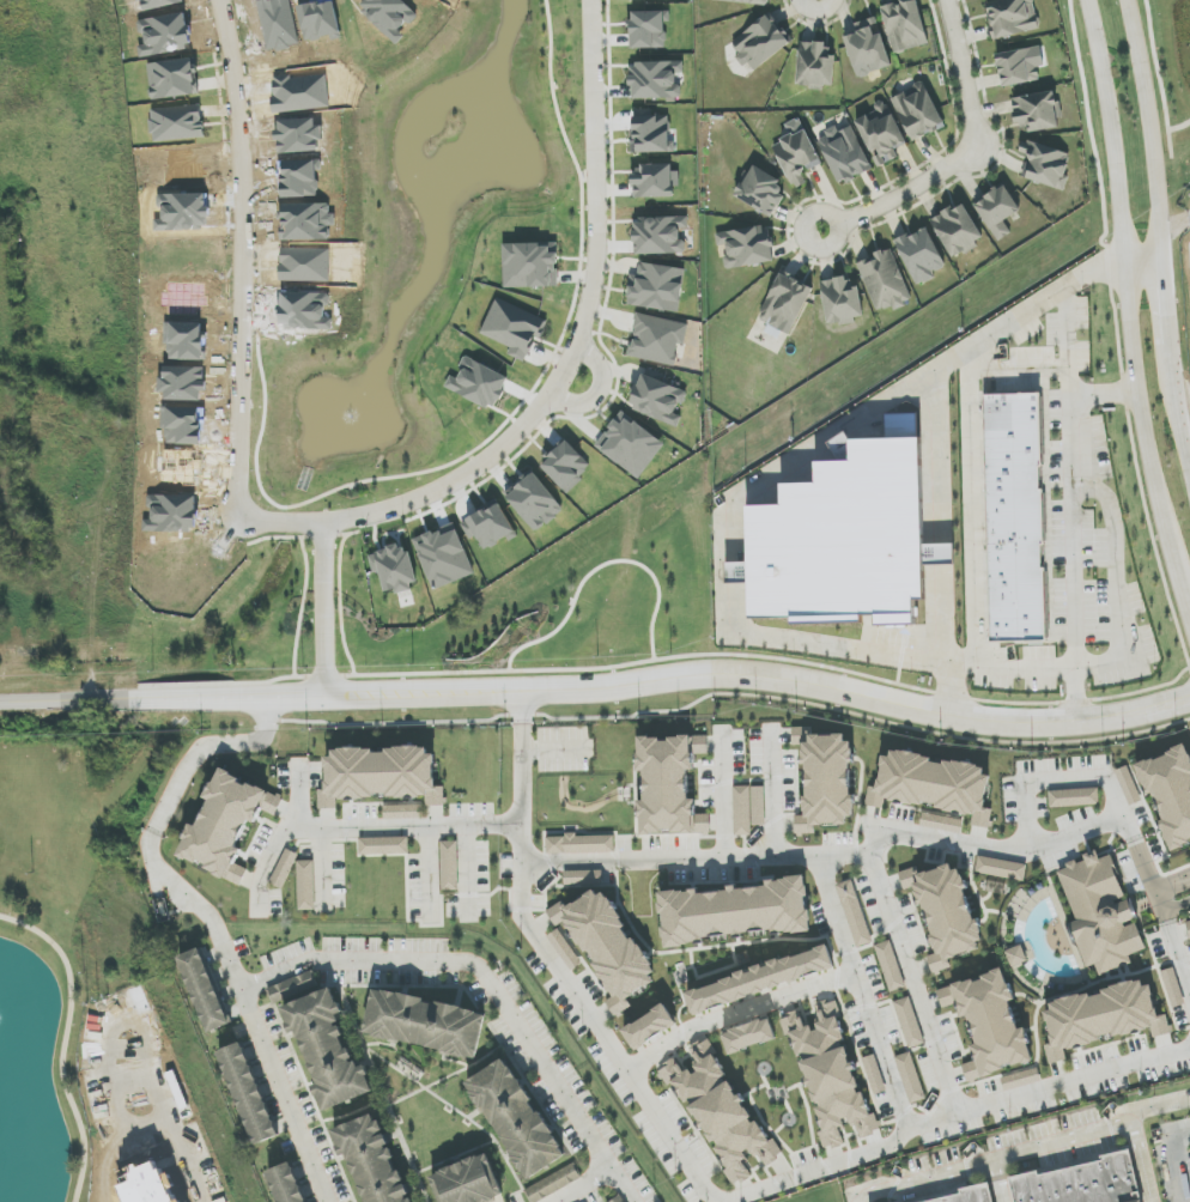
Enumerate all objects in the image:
building: (747, 1)
road: (818, 8)
building: (1012, 17)
building: (905, 25)
building: (760, 43)
building: (868, 48)
park: (1168, 53)
building: (815, 66)
building: (1020, 66)
road: (963, 75)
building: (656, 79)
road: (1158, 80)
building: (917, 111)
building: (1036, 111)
road: (1178, 125)
road: (1149, 130)
building: (652, 134)
building: (881, 134)
building: (844, 153)
building: (796, 157)
building: (1045, 164)
building: (655, 181)
building: (760, 190)
road: (909, 190)
building: (997, 211)
road: (832, 217)
building: (958, 230)
building: (660, 235)
building: (747, 247)
building: (921, 255)
building: (530, 265)
road: (1143, 266)
road: (1127, 279)
building: (884, 281)
building: (656, 287)
building: (842, 300)
road: (243, 302)
building: (785, 303)
road: (1168, 323)
building: (514, 328)
road: (581, 334)
building: (657, 339)
road: (599, 391)
road: (1100, 391)
building: (658, 400)
road: (1182, 425)
building: (630, 445)
road: (969, 506)
building: (1019, 512)
building: (849, 538)
building: (939, 554)
building: (443, 557)
building: (394, 567)
road: (1182, 584)
road: (324, 609)
road: (561, 624)
road: (790, 639)
road: (802, 662)
road: (736, 670)
road: (948, 688)
road: (1071, 694)
road: (263, 698)
road: (101, 700)
road: (1166, 703)
building: (380, 773)
road: (1093, 777)
building: (827, 779)
building: (930, 782)
building: (667, 785)
building: (1128, 785)
building: (1170, 794)
building: (1074, 797)
road: (723, 802)
road: (770, 803)
building: (758, 806)
building: (402, 811)
building: (741, 812)
building: (941, 822)
building: (225, 824)
road: (153, 826)
road: (359, 826)
building: (579, 844)
building: (383, 846)
road: (1001, 850)
road: (694, 861)
road: (323, 864)
building: (449, 864)
road: (467, 867)
building: (283, 868)
building: (1002, 868)
road: (431, 869)
building: (582, 878)
building: (305, 886)
road: (1172, 887)
road: (1159, 901)
road: (1176, 905)
building: (735, 912)
building: (947, 912)
building: (852, 913)
building: (1100, 915)
building: (1188, 925)
building: (609, 946)
building: (564, 949)
road: (1176, 949)
building: (1018, 955)
road: (362, 960)
building: (888, 966)
road: (557, 969)
road: (906, 975)
building: (760, 979)
building: (292, 988)
building: (1172, 988)
building: (202, 990)
road: (862, 998)
road: (733, 1012)
building: (1103, 1015)
building: (425, 1022)
building: (909, 1022)
building: (992, 1022)
building: (649, 1026)
building: (751, 1037)
road: (69, 1043)
building: (327, 1050)
building: (874, 1074)
building: (910, 1079)
building: (1021, 1080)
building: (834, 1081)
building: (248, 1094)
building: (720, 1112)
road: (955, 1116)
building: (515, 1117)
road: (1022, 1147)
road: (1179, 1153)
road: (1140, 1160)
building: (370, 1161)
road: (601, 1173)
building: (469, 1182)
building: (1082, 1182)
building: (286, 1184)
building: (553, 1184)
building: (963, 1195)
road: (855, 1197)
building: (620, 1200)

